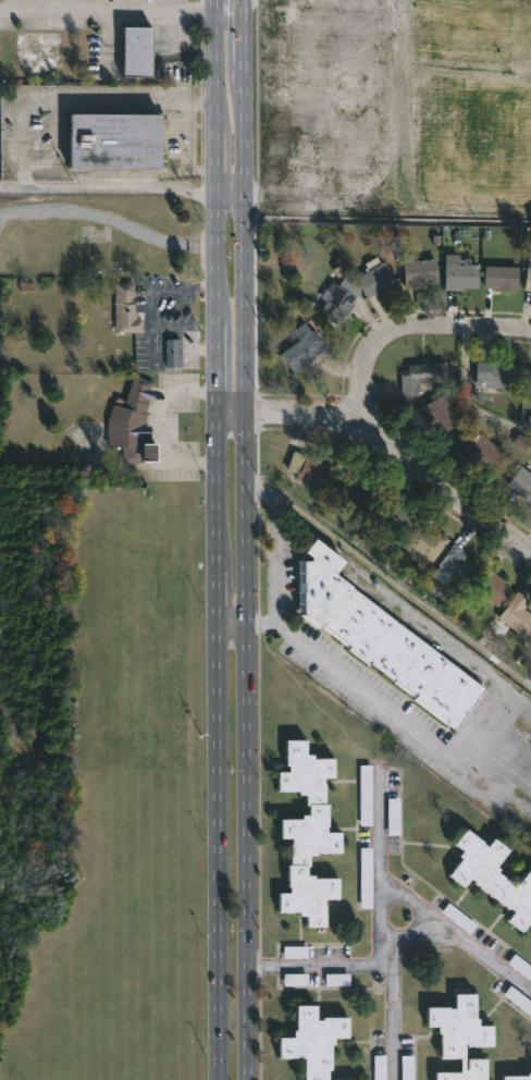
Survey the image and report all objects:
road: (224, 3)
road: (106, 7)
building: (140, 50)
building: (115, 140)
road: (16, 143)
road: (9, 185)
road: (227, 191)
road: (108, 221)
building: (460, 272)
building: (420, 273)
building: (528, 273)
building: (376, 277)
building: (501, 277)
building: (338, 299)
building: (127, 309)
road: (405, 321)
building: (305, 347)
building: (174, 352)
building: (494, 375)
building: (422, 377)
building: (527, 388)
road: (226, 413)
building: (434, 416)
building: (132, 425)
road: (159, 428)
building: (484, 453)
road: (397, 457)
building: (308, 469)
building: (519, 483)
building: (357, 494)
building: (396, 514)
road: (212, 539)
road: (243, 539)
building: (427, 541)
road: (274, 562)
building: (452, 564)
building: (410, 575)
road: (390, 579)
building: (492, 587)
building: (517, 613)
road: (229, 623)
building: (379, 641)
road: (506, 695)
building: (304, 802)
road: (382, 859)
building: (490, 875)
building: (304, 893)
road: (415, 907)
road: (457, 937)
road: (375, 962)
building: (518, 1001)
building: (458, 1023)
building: (309, 1041)
building: (461, 1070)
building: (517, 1077)
building: (348, 1079)

